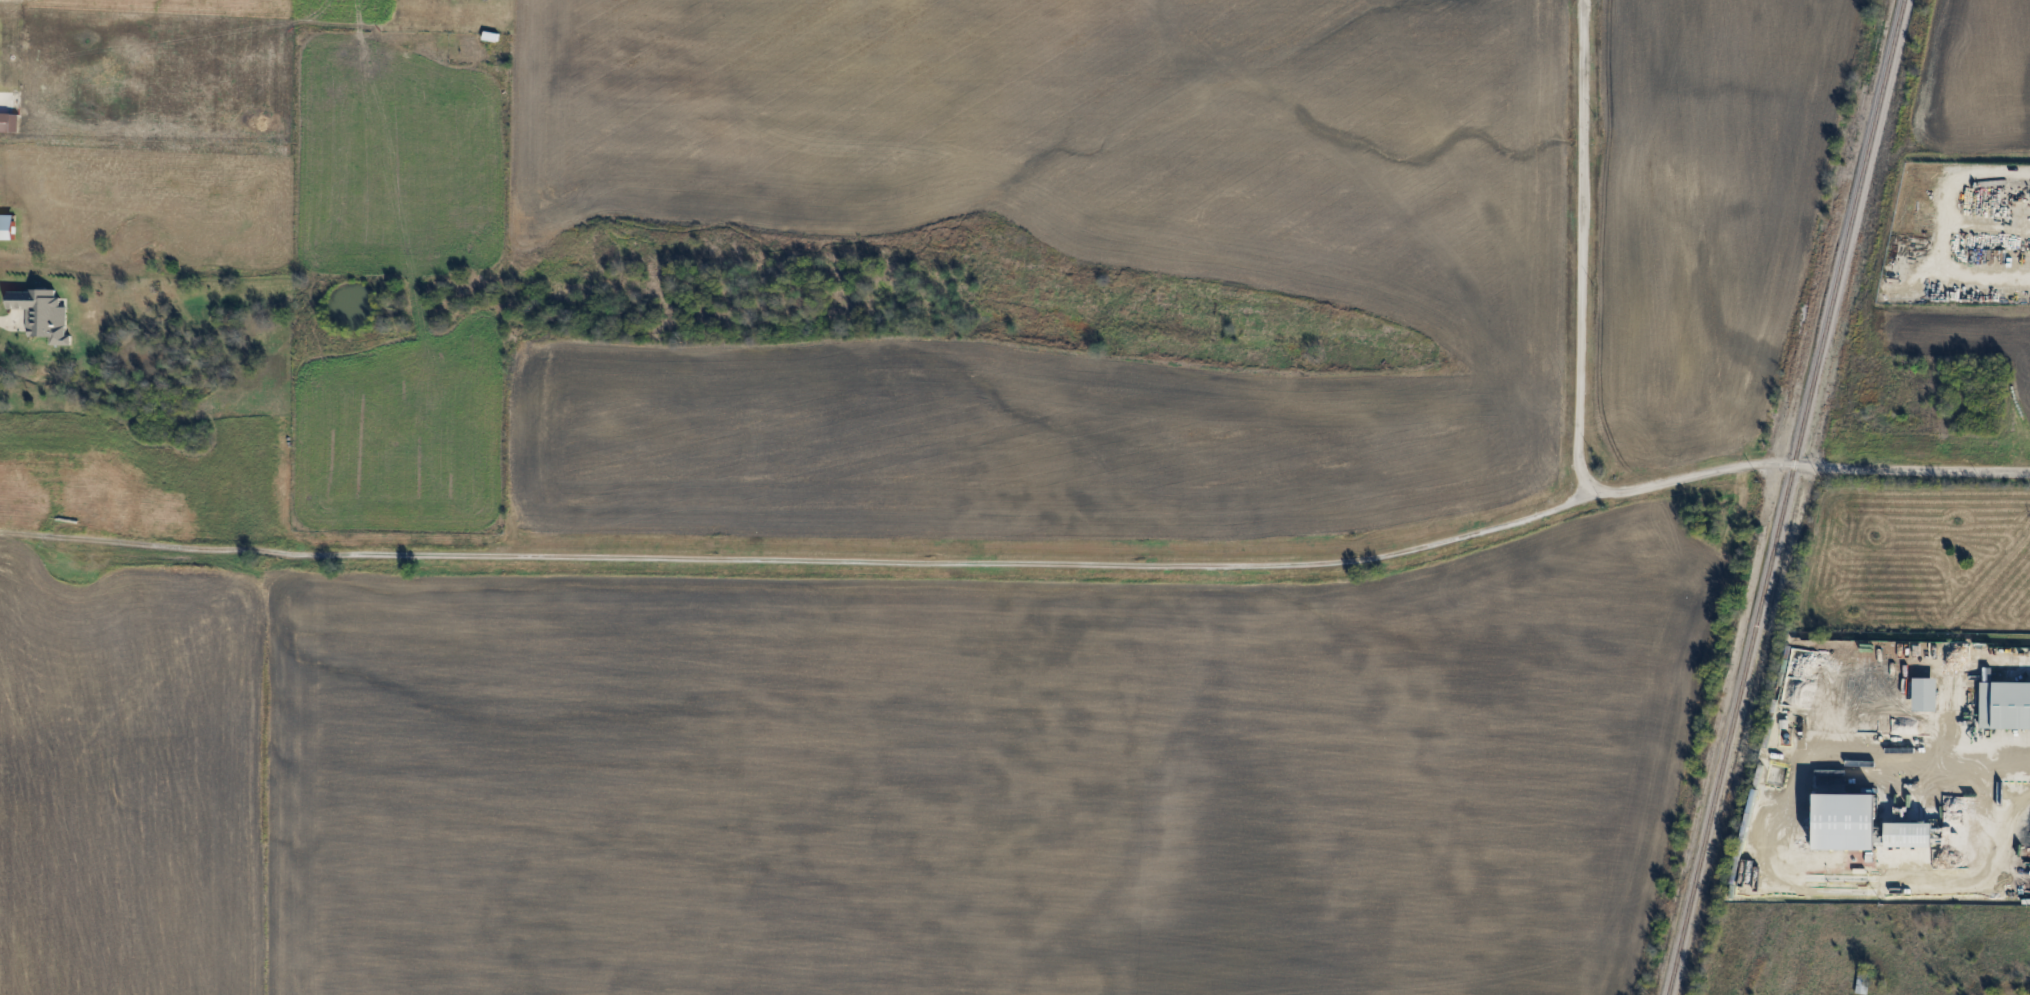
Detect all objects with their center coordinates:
crop: (1976, 81)
road: (1588, 250)
road: (2, 316)
railway: (1786, 497)
road: (1065, 564)
building: (1926, 692)
building: (2005, 703)
road: (1929, 781)
building: (1862, 981)

